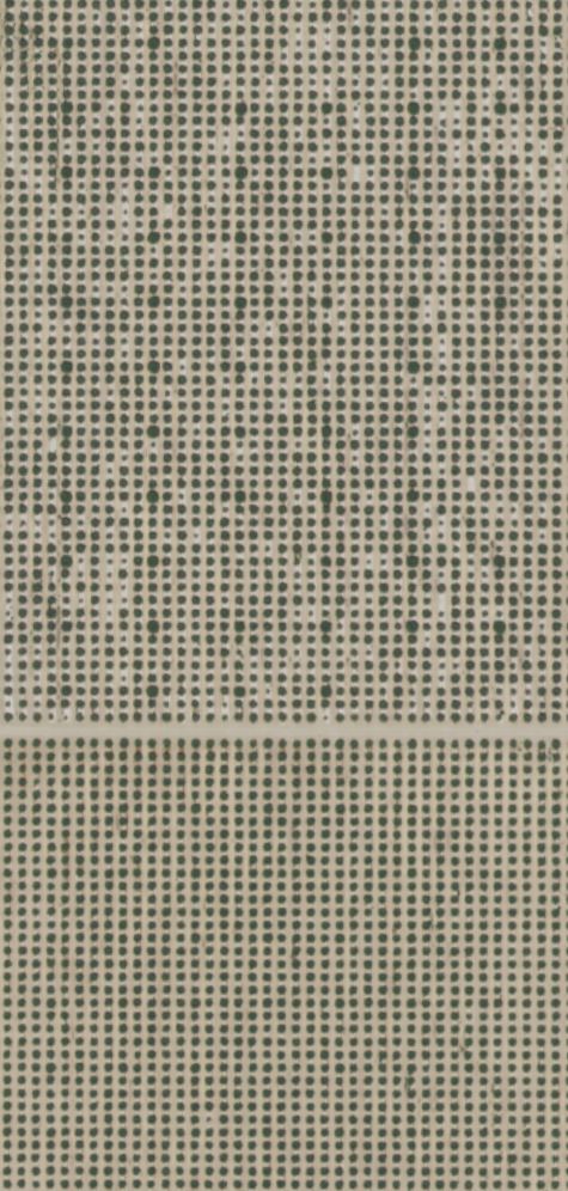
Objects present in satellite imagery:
road: (39, 594)
road: (283, 729)

